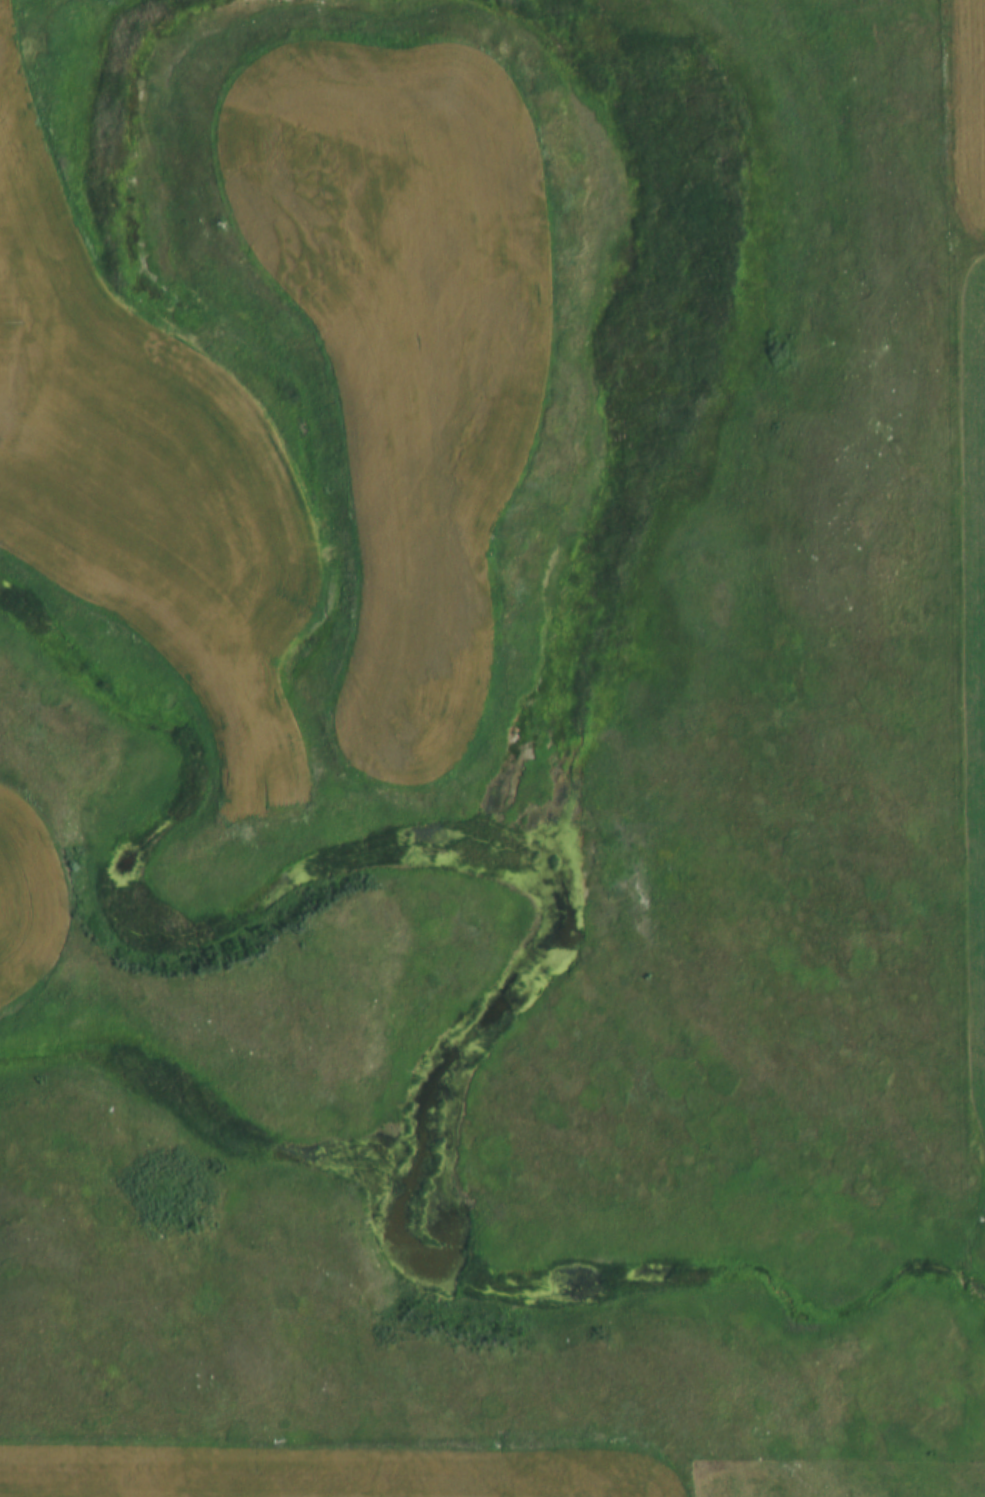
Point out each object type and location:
road: (175, 1446)

